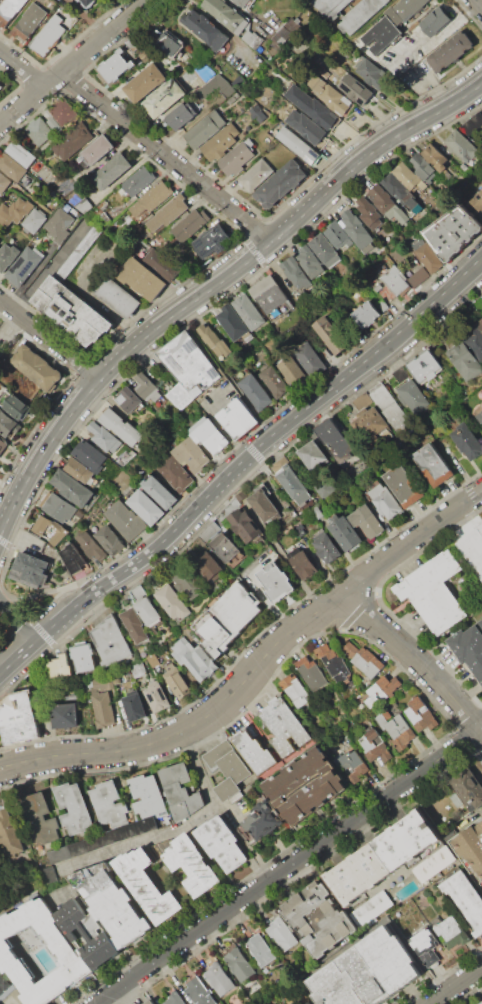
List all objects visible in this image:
road: (479, 2)
building: (241, 3)
building: (89, 4)
building: (331, 8)
building: (9, 10)
building: (405, 10)
building: (224, 13)
building: (360, 15)
building: (28, 21)
building: (435, 21)
building: (204, 27)
road: (224, 29)
building: (287, 31)
building: (383, 31)
building: (49, 35)
building: (252, 38)
road: (430, 41)
building: (165, 42)
building: (450, 51)
building: (317, 59)
road: (72, 62)
building: (116, 64)
road: (21, 68)
building: (202, 71)
building: (325, 73)
building: (371, 73)
building: (145, 82)
building: (0, 84)
building: (0, 87)
building: (216, 87)
building: (355, 88)
building: (332, 95)
building: (164, 97)
building: (234, 98)
building: (310, 106)
building: (64, 111)
building: (257, 113)
building: (181, 114)
building: (472, 123)
building: (54, 124)
building: (306, 126)
building: (205, 128)
building: (40, 130)
road: (402, 131)
building: (74, 140)
building: (221, 141)
building: (297, 145)
building: (459, 145)
building: (98, 149)
building: (21, 153)
road: (167, 156)
building: (436, 158)
building: (236, 159)
building: (12, 166)
building: (422, 166)
building: (112, 171)
building: (257, 174)
building: (409, 176)
building: (138, 181)
building: (4, 183)
building: (280, 183)
building: (401, 192)
building: (1, 196)
building: (152, 198)
building: (386, 203)
building: (476, 203)
building: (83, 204)
building: (103, 205)
building: (14, 211)
building: (369, 212)
building: (167, 214)
road: (299, 215)
building: (33, 221)
building: (190, 224)
building: (59, 225)
building: (356, 228)
building: (453, 231)
building: (385, 232)
building: (338, 236)
building: (212, 241)
building: (373, 247)
building: (325, 250)
building: (78, 251)
building: (7, 256)
building: (429, 257)
building: (309, 261)
building: (23, 266)
building: (161, 266)
road: (47, 269)
building: (295, 273)
building: (140, 277)
building: (418, 277)
building: (395, 280)
road: (451, 284)
road: (213, 285)
building: (386, 294)
building: (118, 296)
building: (271, 298)
building: (383, 304)
building: (70, 311)
building: (248, 311)
building: (367, 315)
building: (481, 321)
building: (232, 323)
road: (7, 324)
building: (331, 336)
road: (49, 341)
building: (214, 342)
building: (475, 343)
road: (125, 353)
building: (0, 356)
road: (142, 356)
building: (310, 359)
building: (465, 360)
road: (214, 363)
building: (424, 365)
building: (34, 369)
building: (187, 370)
building: (293, 371)
building: (275, 380)
building: (147, 388)
building: (256, 392)
building: (411, 394)
building: (128, 399)
building: (481, 402)
building: (390, 406)
building: (16, 407)
building: (480, 407)
building: (480, 415)
building: (238, 418)
building: (368, 420)
building: (7, 425)
road: (61, 425)
building: (120, 427)
building: (208, 434)
building: (103, 436)
building: (467, 441)
building: (3, 445)
building: (341, 447)
building: (312, 454)
building: (191, 455)
building: (89, 456)
building: (434, 465)
building: (79, 470)
building: (178, 471)
road: (227, 476)
building: (292, 482)
building: (405, 485)
building: (71, 487)
building: (325, 488)
building: (161, 492)
building: (386, 502)
building: (264, 503)
road: (13, 504)
building: (58, 507)
building: (146, 507)
building: (317, 512)
building: (126, 520)
building: (366, 521)
building: (244, 525)
building: (299, 528)
building: (49, 529)
building: (345, 534)
road: (21, 538)
building: (109, 540)
building: (90, 545)
building: (326, 547)
building: (473, 549)
building: (228, 550)
building: (73, 559)
road: (285, 559)
building: (207, 563)
building: (303, 564)
building: (30, 569)
building: (276, 582)
building: (189, 583)
building: (435, 593)
road: (266, 601)
building: (173, 602)
building: (148, 611)
building: (226, 619)
road: (17, 620)
building: (480, 621)
building: (135, 625)
building: (110, 641)
road: (271, 645)
building: (468, 647)
road: (17, 657)
building: (84, 657)
building: (195, 658)
road: (416, 658)
building: (365, 659)
building: (154, 662)
building: (333, 662)
building: (61, 666)
building: (138, 669)
building: (312, 673)
building: (176, 680)
building: (381, 690)
building: (295, 691)
building: (156, 697)
building: (102, 707)
building: (134, 707)
building: (421, 714)
building: (64, 715)
building: (19, 718)
building: (284, 728)
building: (396, 728)
building: (375, 745)
building: (254, 752)
road: (23, 755)
building: (353, 764)
road: (23, 765)
building: (227, 768)
building: (306, 785)
building: (179, 790)
building: (468, 791)
building: (146, 796)
building: (108, 803)
building: (73, 808)
road: (224, 809)
building: (39, 819)
building: (262, 822)
road: (178, 826)
building: (10, 833)
building: (103, 839)
building: (220, 845)
building: (470, 850)
building: (382, 857)
building: (190, 863)
building: (433, 864)
road: (288, 865)
building: (47, 875)
building: (145, 886)
building: (465, 897)
building: (371, 907)
building: (116, 909)
building: (319, 919)
building: (451, 932)
building: (87, 933)
building: (282, 935)
building: (422, 940)
building: (64, 949)
building: (261, 951)
building: (240, 965)
building: (367, 972)
building: (220, 979)
building: (3, 984)
road: (458, 987)
building: (200, 991)
building: (173, 999)
building: (151, 1002)
building: (308, 1003)
building: (481, 1003)

